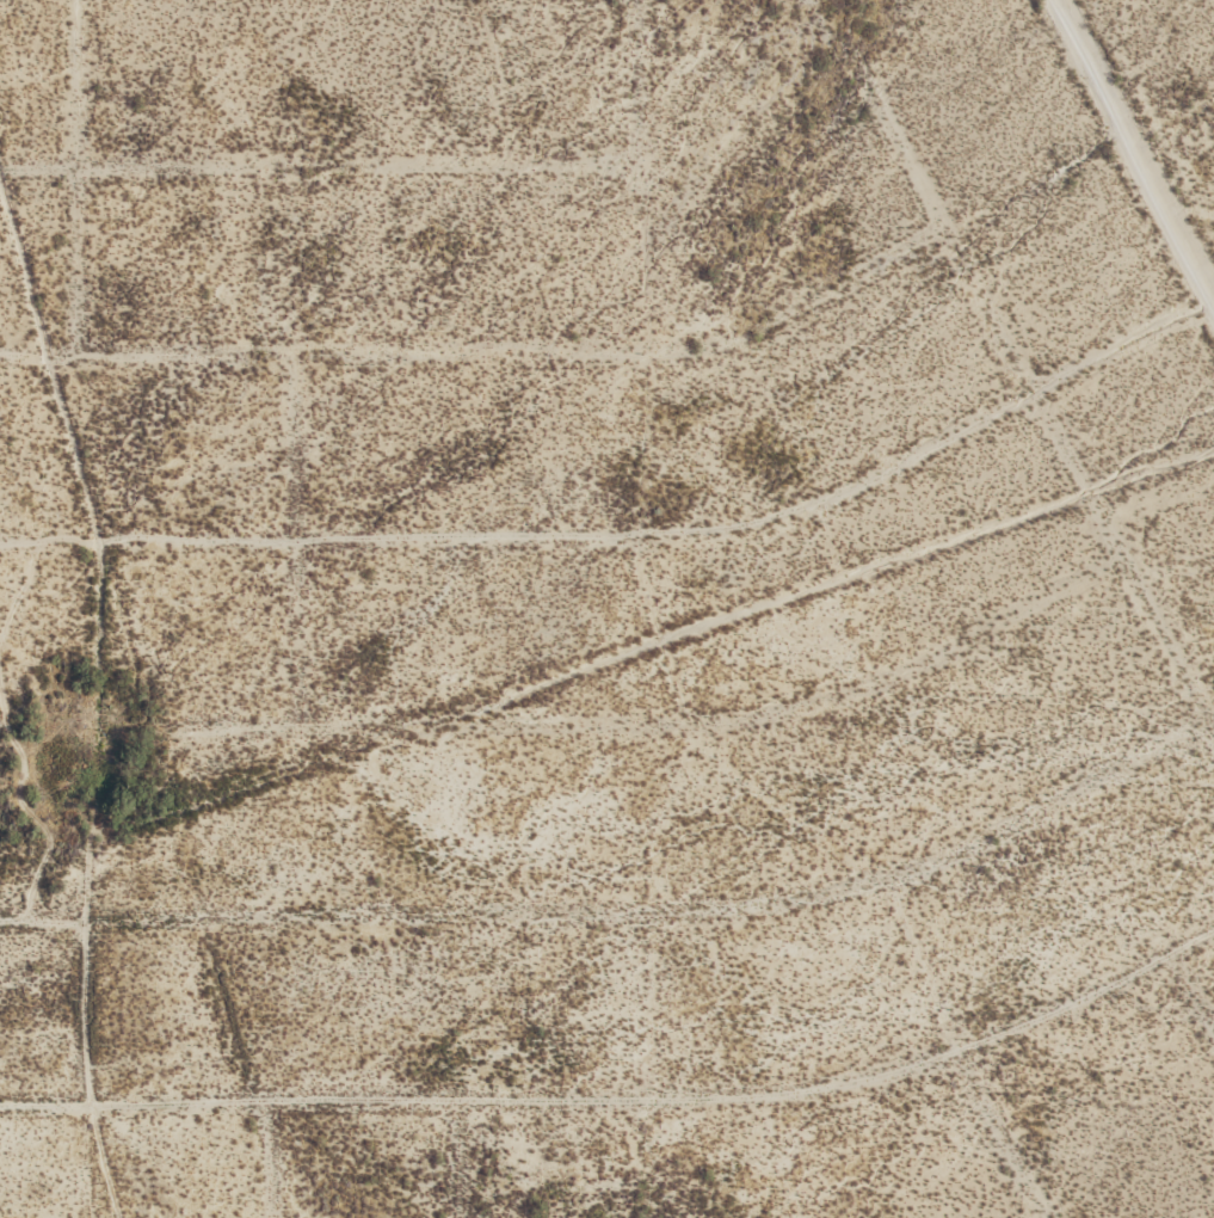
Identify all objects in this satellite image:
road: (1134, 147)
road: (322, 166)
road: (79, 178)
road: (487, 353)
road: (1041, 401)
road: (635, 533)
road: (300, 560)
road: (647, 608)
road: (627, 651)
road: (137, 679)
road: (95, 690)
road: (581, 725)
road: (627, 908)
road: (60, 947)
road: (1191, 989)
road: (960, 1052)
road: (623, 1095)
road: (456, 1157)
road: (267, 1158)

